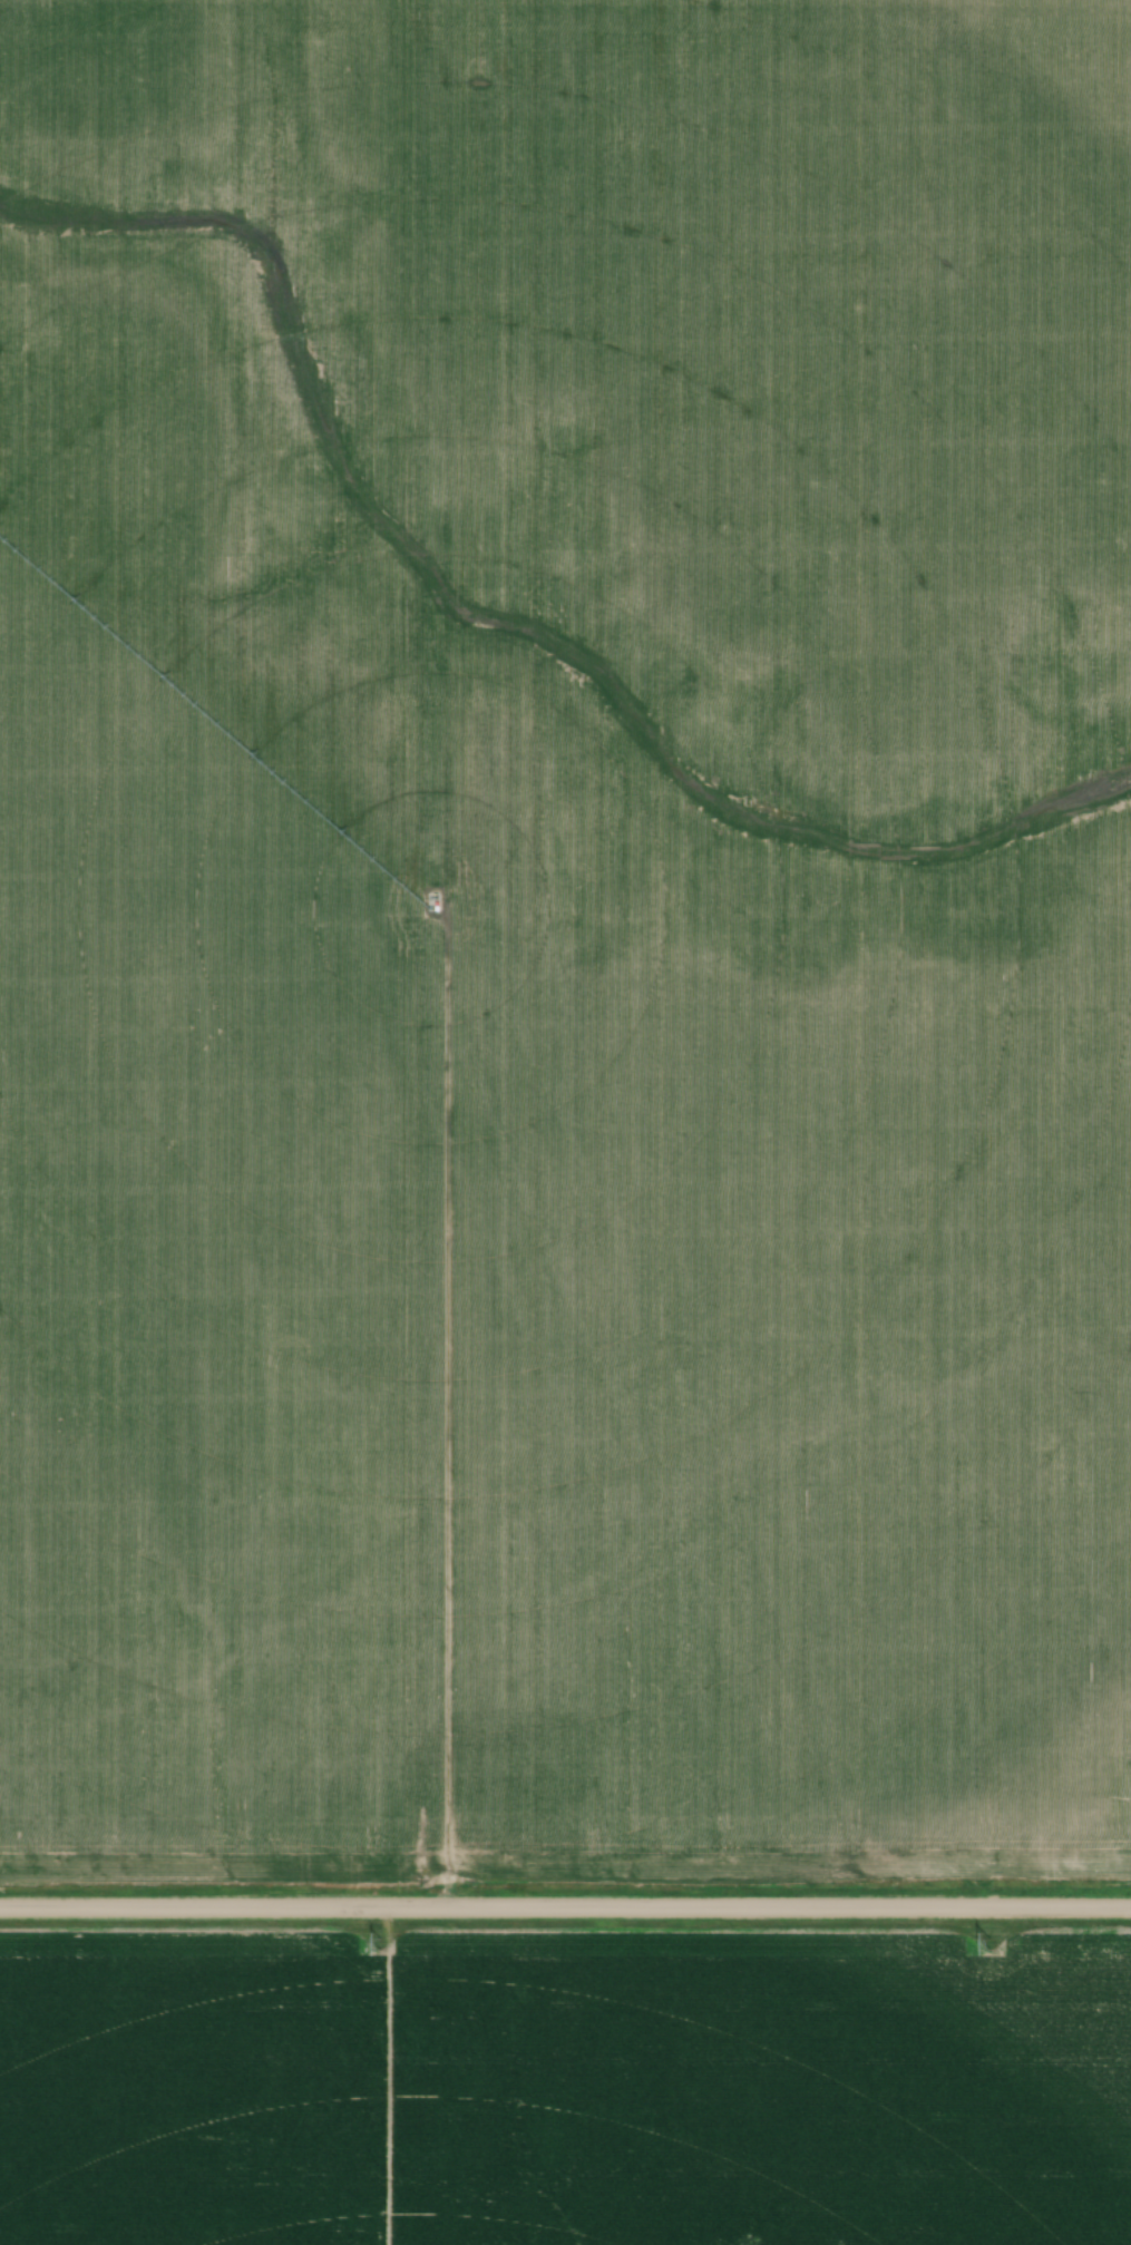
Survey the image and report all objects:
road: (565, 1907)
power tower: (380, 1943)
power tower: (989, 1943)

